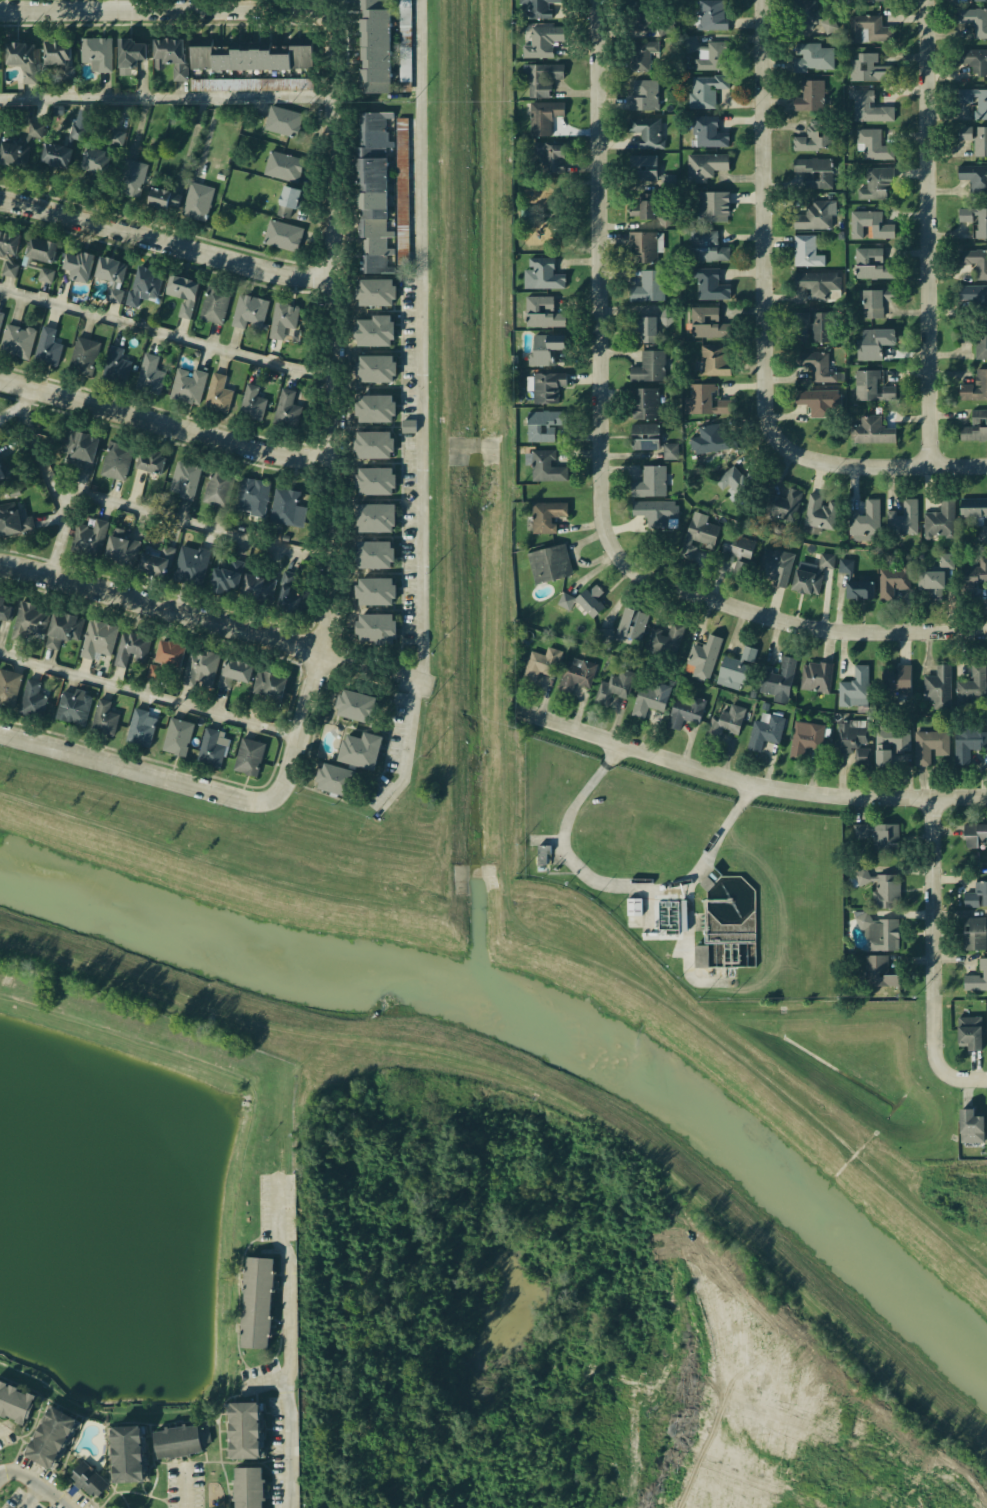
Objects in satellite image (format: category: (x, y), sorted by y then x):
building: (874, 0)
building: (977, 1)
building: (864, 6)
road: (163, 9)
building: (534, 10)
building: (802, 14)
building: (710, 15)
building: (638, 16)
building: (973, 20)
building: (828, 23)
building: (866, 29)
building: (540, 41)
building: (375, 46)
building: (280, 50)
building: (639, 51)
building: (50, 52)
building: (707, 52)
building: (127, 53)
building: (168, 53)
building: (94, 54)
building: (249, 55)
building: (810, 56)
building: (972, 57)
building: (19, 58)
building: (867, 67)
building: (539, 78)
building: (252, 84)
building: (705, 89)
building: (642, 94)
building: (808, 96)
road: (169, 99)
building: (973, 99)
building: (865, 103)
building: (542, 115)
building: (280, 121)
building: (33, 130)
building: (706, 130)
building: (645, 131)
building: (76, 132)
building: (813, 136)
building: (114, 137)
building: (973, 138)
building: (872, 143)
building: (11, 150)
building: (550, 154)
building: (50, 155)
building: (85, 161)
building: (703, 165)
building: (281, 166)
building: (639, 167)
building: (812, 171)
building: (126, 176)
building: (973, 177)
building: (669, 182)
building: (873, 182)
road: (561, 190)
building: (373, 192)
building: (286, 195)
building: (156, 197)
building: (194, 199)
building: (641, 206)
building: (709, 206)
road: (532, 211)
building: (526, 214)
park: (551, 214)
road: (541, 215)
building: (813, 216)
road: (532, 218)
building: (973, 221)
building: (868, 222)
road: (931, 232)
building: (281, 235)
road: (562, 239)
road: (169, 241)
building: (643, 245)
building: (705, 246)
road: (767, 247)
building: (9, 248)
building: (804, 251)
building: (41, 253)
building: (974, 260)
building: (867, 263)
building: (79, 265)
building: (543, 273)
building: (46, 275)
building: (110, 277)
building: (817, 282)
building: (707, 284)
building: (647, 286)
building: (138, 288)
building: (371, 292)
building: (183, 295)
building: (971, 297)
building: (875, 301)
building: (212, 305)
building: (0, 311)
building: (249, 311)
building: (541, 312)
building: (1, 318)
building: (281, 318)
building: (708, 322)
building: (817, 325)
building: (644, 328)
building: (370, 330)
building: (975, 338)
building: (869, 341)
building: (15, 342)
road: (169, 343)
building: (544, 345)
building: (46, 348)
building: (84, 352)
building: (714, 358)
building: (115, 362)
building: (648, 366)
building: (819, 367)
building: (371, 368)
building: (146, 373)
building: (864, 384)
building: (186, 385)
building: (546, 386)
building: (972, 386)
road: (603, 391)
building: (216, 393)
building: (704, 400)
building: (819, 401)
building: (643, 403)
building: (249, 405)
building: (370, 408)
road: (423, 410)
building: (286, 411)
road: (340, 412)
road: (169, 422)
building: (974, 425)
building: (409, 426)
building: (869, 427)
building: (538, 428)
building: (644, 436)
building: (711, 439)
building: (370, 444)
road: (436, 445)
building: (669, 450)
building: (77, 451)
building: (113, 460)
building: (148, 463)
building: (543, 464)
road: (909, 464)
building: (4, 473)
road: (54, 479)
building: (182, 479)
building: (370, 479)
building: (729, 479)
building: (649, 482)
building: (212, 489)
building: (247, 495)
building: (784, 503)
building: (283, 507)
building: (972, 507)
building: (818, 511)
building: (656, 512)
building: (372, 515)
building: (550, 516)
building: (903, 519)
building: (940, 520)
building: (866, 522)
building: (16, 524)
road: (204, 534)
building: (983, 534)
building: (90, 535)
building: (698, 539)
building: (124, 544)
building: (742, 554)
building: (155, 556)
building: (372, 556)
building: (554, 561)
building: (192, 563)
building: (779, 565)
building: (225, 574)
building: (815, 574)
building: (858, 581)
building: (259, 583)
building: (898, 586)
building: (970, 587)
building: (933, 588)
building: (293, 592)
building: (372, 592)
building: (586, 603)
road: (164, 607)
building: (4, 612)
building: (30, 623)
building: (631, 624)
building: (372, 628)
road: (908, 632)
building: (64, 636)
building: (605, 636)
building: (673, 639)
building: (101, 645)
building: (706, 654)
building: (134, 655)
building: (169, 665)
building: (538, 665)
building: (741, 667)
road: (375, 669)
road: (451, 670)
building: (778, 675)
building: (203, 676)
building: (584, 680)
building: (817, 683)
building: (238, 685)
building: (10, 687)
building: (858, 690)
building: (939, 691)
building: (973, 691)
building: (622, 692)
building: (900, 692)
building: (276, 696)
road: (152, 698)
building: (31, 700)
building: (652, 704)
building: (352, 705)
building: (73, 707)
building: (688, 715)
building: (103, 720)
building: (138, 728)
building: (727, 729)
building: (178, 737)
building: (767, 740)
building: (209, 745)
building: (349, 748)
building: (812, 748)
building: (855, 754)
building: (925, 755)
building: (971, 755)
building: (248, 756)
building: (887, 761)
road: (133, 769)
building: (335, 779)
road: (751, 779)
building: (965, 832)
building: (876, 840)
building: (543, 854)
building: (968, 882)
building: (876, 885)
road: (617, 886)
building: (876, 926)
building: (967, 933)
road: (688, 942)
building: (728, 947)
road: (937, 958)
building: (885, 971)
building: (970, 981)
river: (545, 1018)
building: (967, 1033)
road: (334, 1036)
road: (188, 1057)
building: (968, 1122)
road: (307, 1262)
building: (257, 1303)
road: (822, 1308)
road: (722, 1336)
road: (286, 1350)
building: (16, 1403)
road: (97, 1409)
road: (2, 1428)
building: (245, 1430)
building: (52, 1437)
building: (181, 1440)
building: (128, 1454)
building: (89, 1480)
road: (36, 1482)
building: (248, 1487)
road: (186, 1488)
road: (31, 1497)

